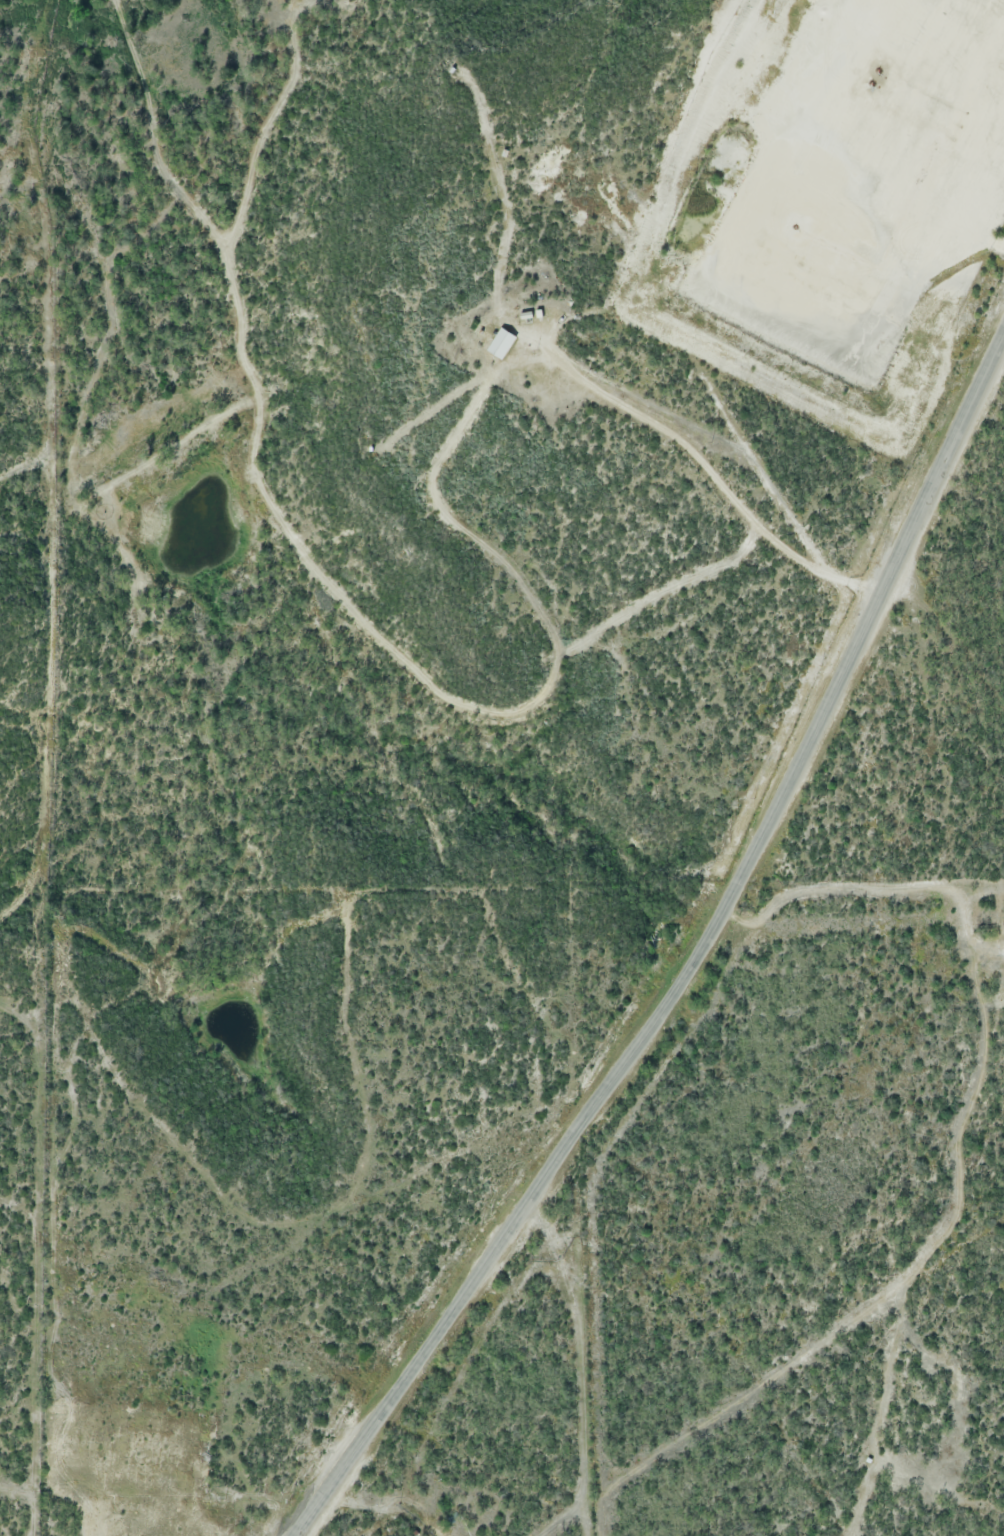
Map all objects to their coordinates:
building: (497, 345)
road: (694, 968)

